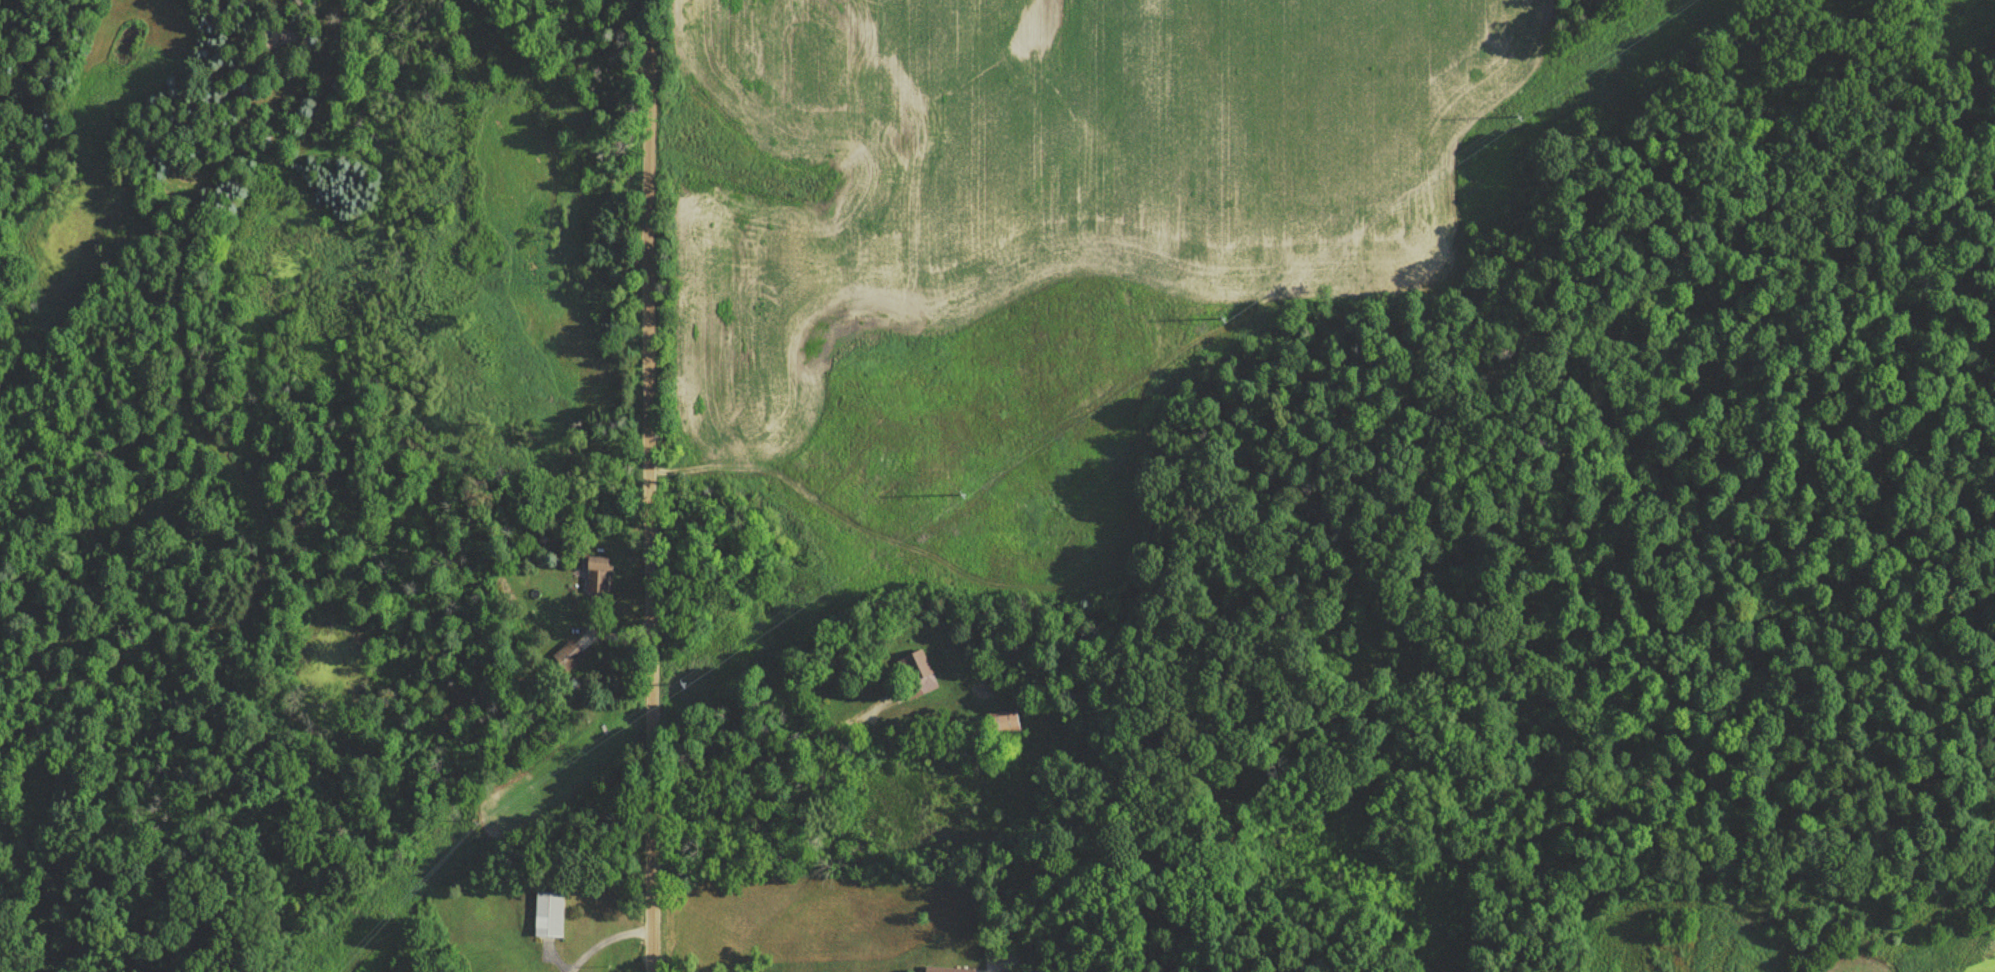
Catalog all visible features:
power tower: (1565, 83)
power tower: (1229, 312)
road: (353, 485)
road: (647, 486)
power tower: (947, 501)
building: (595, 575)
building: (566, 656)
building: (918, 674)
power tower: (668, 692)
building: (1001, 724)
road: (765, 754)
power tower: (467, 823)
building: (547, 915)
road: (605, 940)
building: (941, 970)

